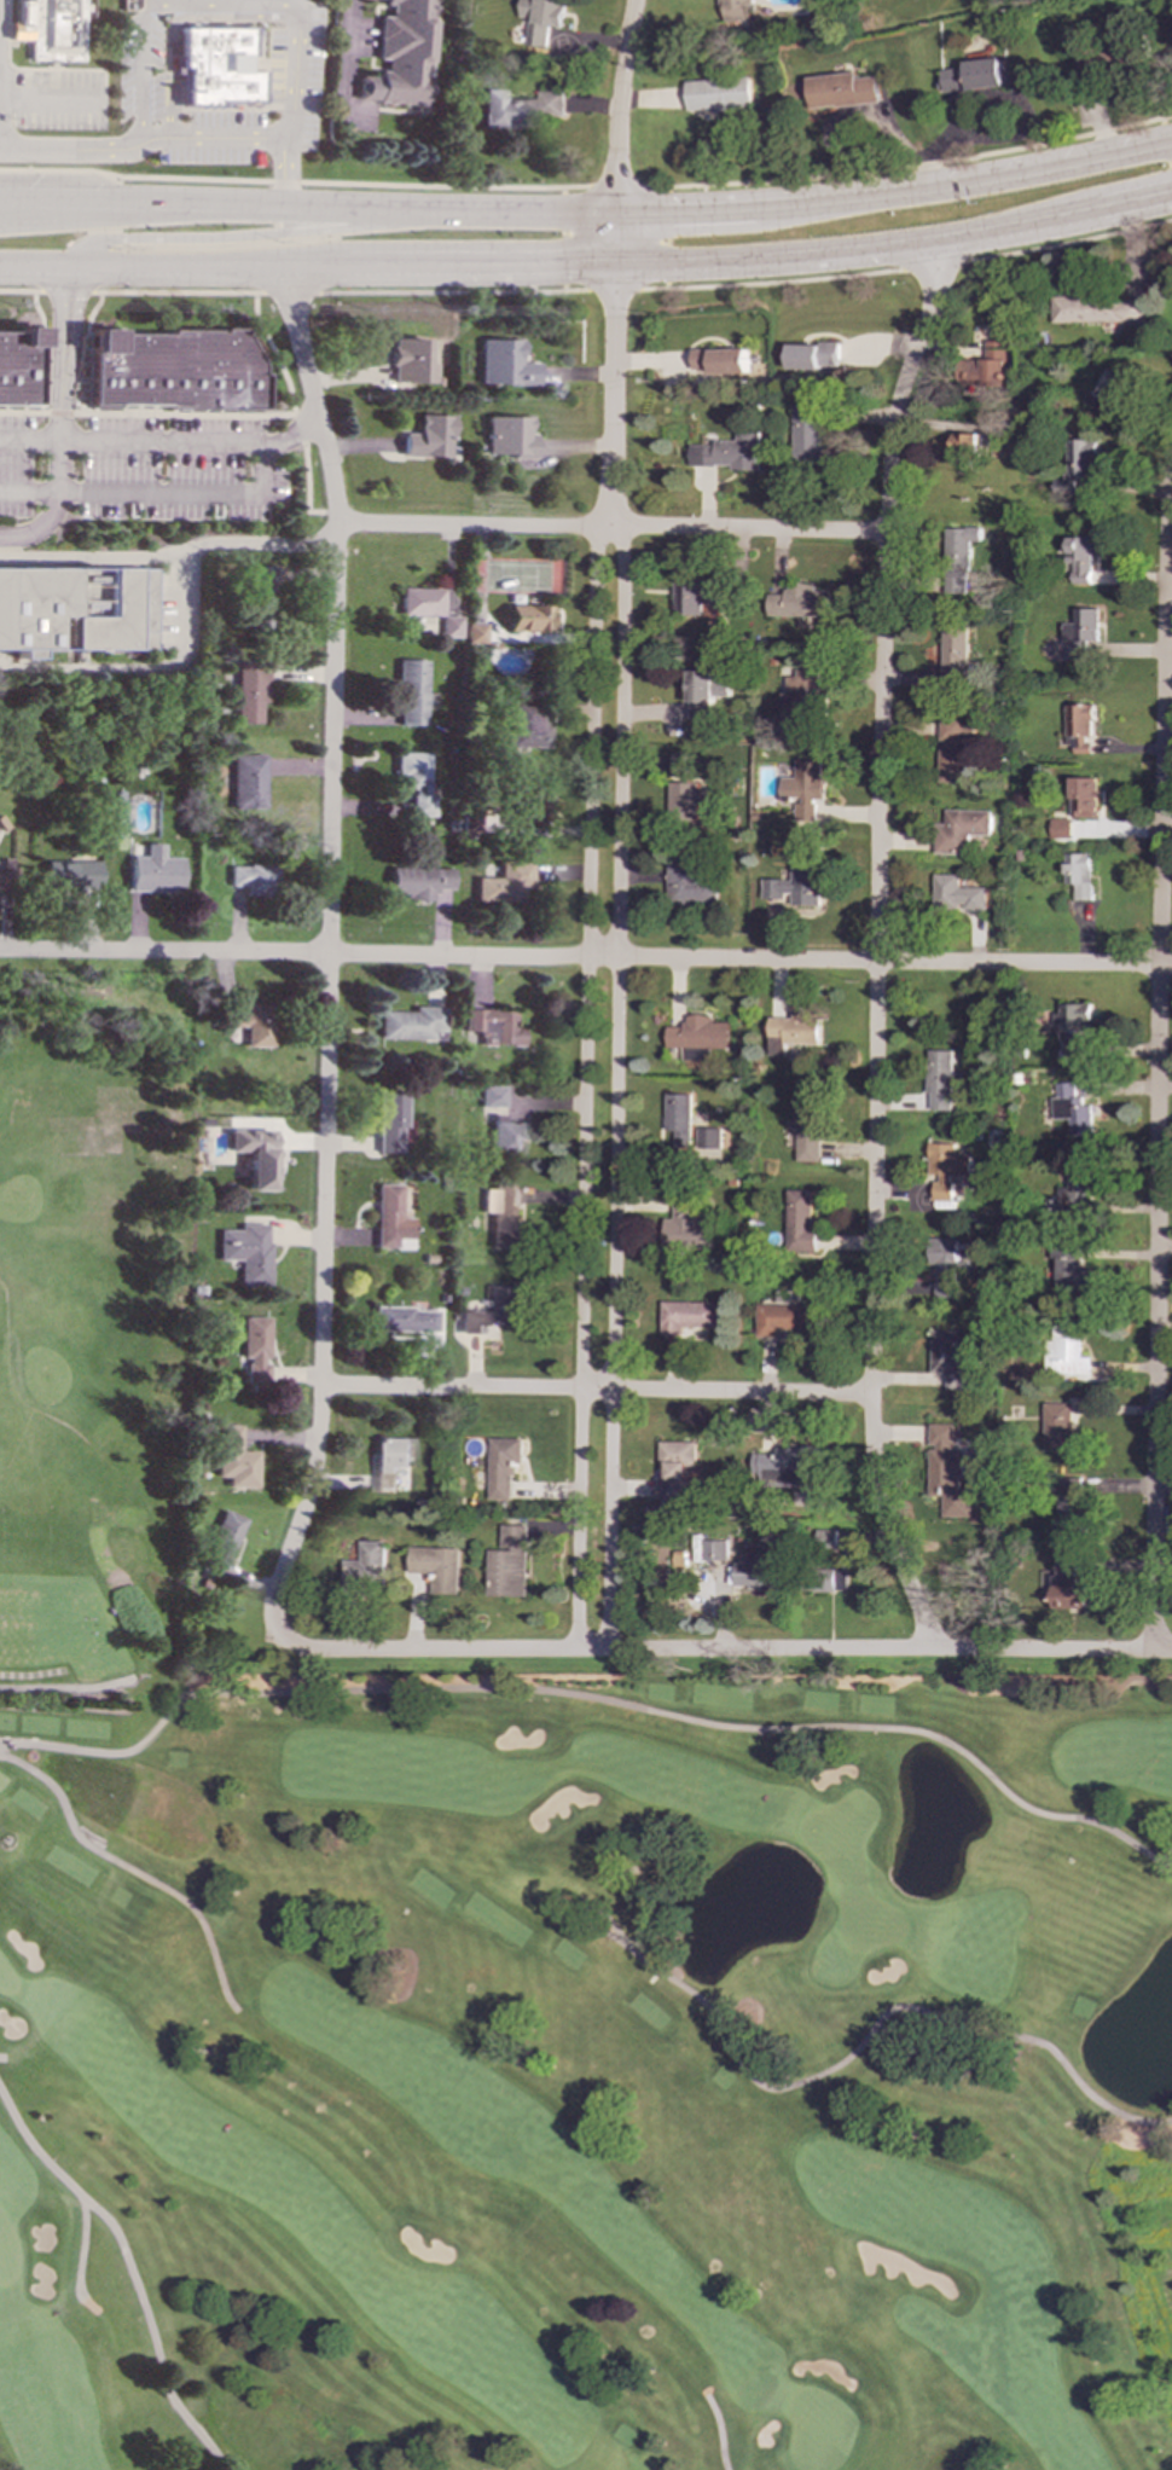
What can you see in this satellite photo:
road: (157, 4)
building: (733, 8)
building: (541, 19)
building: (52, 28)
road: (349, 47)
building: (401, 54)
building: (219, 65)
building: (975, 76)
parking lot: (226, 80)
parking lot: (46, 89)
building: (843, 91)
building: (720, 95)
road: (294, 104)
building: (522, 108)
road: (210, 141)
road: (617, 144)
road: (76, 152)
road: (909, 164)
road: (295, 181)
road: (616, 187)
road: (12, 195)
road: (141, 201)
road: (731, 208)
road: (101, 214)
road: (243, 234)
road: (563, 238)
road: (1068, 243)
road: (894, 247)
road: (934, 265)
road: (452, 266)
road: (145, 267)
road: (771, 282)
road: (22, 289)
road: (614, 289)
road: (68, 290)
road: (452, 290)
road: (179, 291)
road: (292, 291)
building: (1097, 309)
building: (813, 356)
building: (408, 360)
building: (721, 361)
building: (500, 363)
building: (18, 367)
building: (985, 367)
building: (174, 372)
road: (613, 388)
building: (1108, 398)
road: (62, 421)
building: (506, 435)
building: (807, 435)
building: (425, 436)
road: (30, 439)
road: (193, 441)
building: (965, 445)
building: (1000, 446)
building: (731, 452)
building: (1078, 466)
road: (28, 489)
road: (186, 493)
road: (610, 529)
road: (256, 544)
road: (91, 557)
building: (959, 557)
building: (1081, 558)
building: (259, 592)
building: (694, 596)
building: (419, 601)
building: (797, 602)
building: (75, 608)
building: (527, 617)
building: (449, 625)
building: (475, 631)
building: (1081, 632)
building: (956, 654)
road: (139, 668)
building: (248, 688)
building: (410, 691)
building: (704, 694)
building: (803, 696)
building: (528, 725)
building: (1080, 729)
building: (956, 752)
building: (683, 764)
building: (414, 781)
building: (248, 783)
building: (807, 789)
building: (1084, 798)
building: (686, 799)
building: (534, 805)
building: (1061, 829)
building: (963, 830)
building: (153, 870)
building: (1081, 874)
building: (4, 875)
building: (70, 875)
building: (251, 877)
building: (417, 881)
building: (503, 882)
building: (800, 883)
building: (691, 887)
building: (958, 895)
road: (877, 946)
road: (327, 951)
road: (586, 958)
building: (250, 1022)
building: (411, 1022)
building: (492, 1025)
building: (1075, 1027)
building: (791, 1033)
building: (698, 1037)
road: (584, 1067)
road: (1159, 1067)
road: (615, 1068)
building: (941, 1080)
building: (492, 1096)
building: (1073, 1111)
building: (388, 1119)
building: (677, 1124)
building: (807, 1126)
building: (504, 1135)
building: (708, 1138)
building: (251, 1155)
building: (945, 1169)
building: (1078, 1190)
building: (501, 1213)
building: (389, 1218)
building: (799, 1222)
building: (685, 1225)
building: (244, 1250)
building: (945, 1268)
building: (1069, 1271)
building: (492, 1310)
building: (689, 1317)
building: (404, 1318)
building: (784, 1320)
building: (254, 1349)
building: (1066, 1350)
building: (950, 1361)
road: (594, 1391)
building: (1063, 1424)
building: (233, 1457)
building: (389, 1461)
building: (501, 1466)
building: (785, 1466)
building: (678, 1469)
building: (947, 1473)
building: (1072, 1513)
building: (224, 1535)
building: (825, 1538)
building: (714, 1550)
building: (507, 1564)
building: (436, 1569)
building: (366, 1570)
building: (749, 1576)
building: (826, 1579)
building: (1067, 1587)
road: (721, 1651)
road: (593, 1698)
road: (130, 1871)
park: (529, 1984)
road: (2, 2057)
road: (748, 2075)
road: (1108, 2107)
road: (80, 2260)
road: (130, 2267)
road: (719, 2433)

